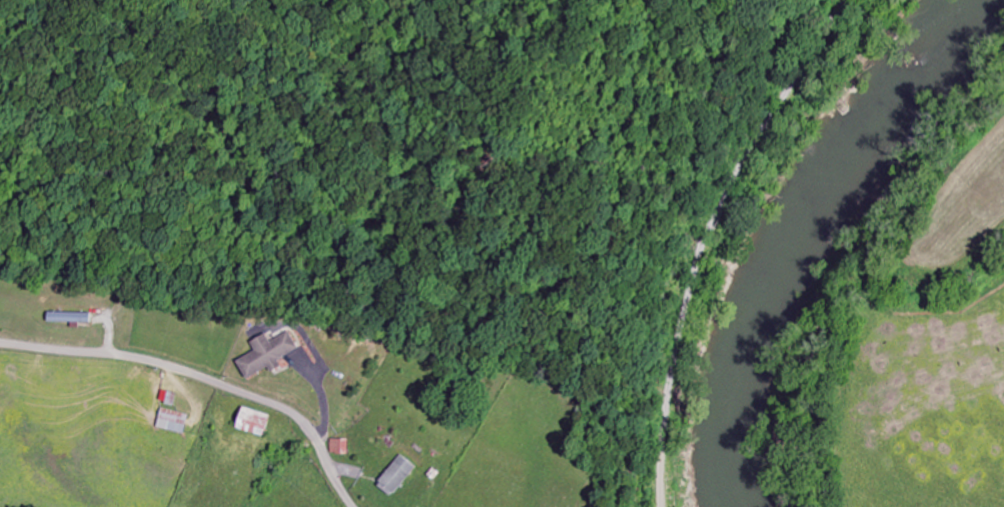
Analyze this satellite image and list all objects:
river: (761, 226)
road: (702, 237)
building: (264, 354)
road: (204, 379)
building: (172, 421)
building: (250, 422)
building: (337, 447)
building: (394, 476)

